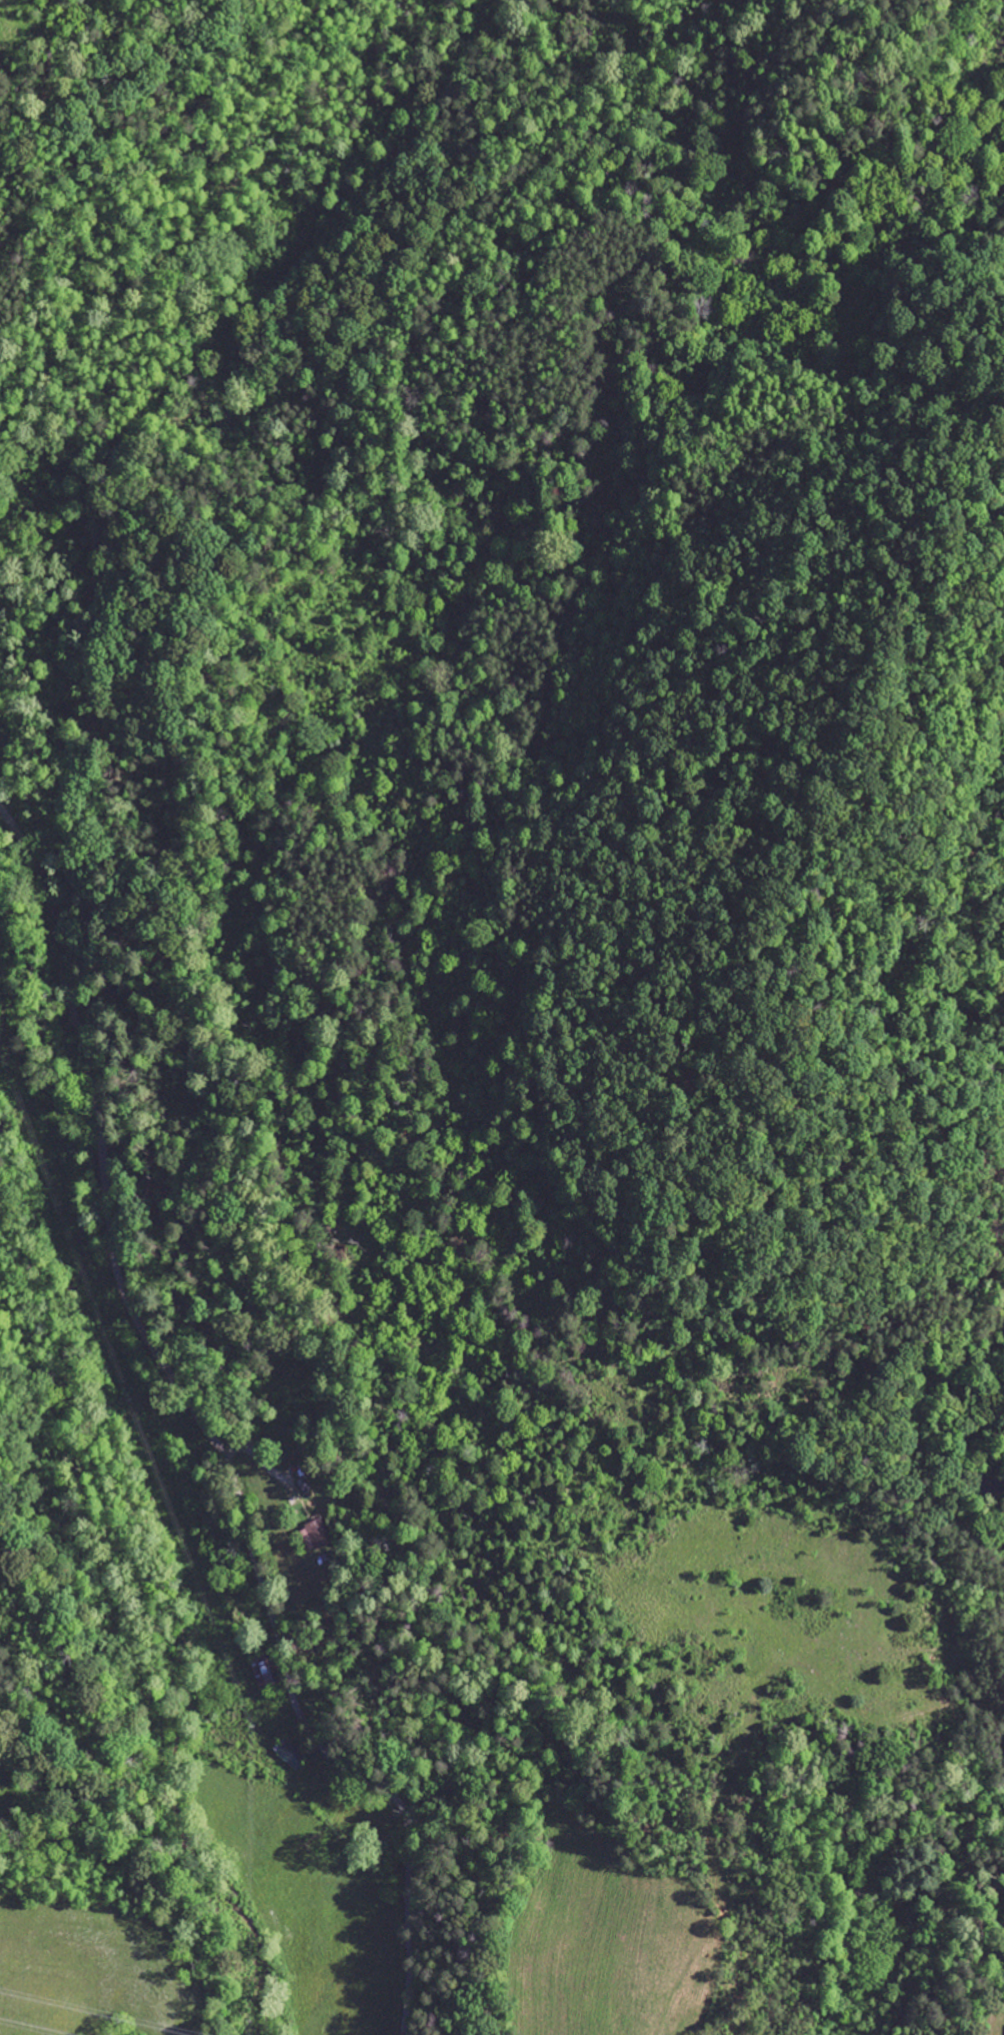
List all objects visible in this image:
road: (206, 1430)
building: (291, 1758)

